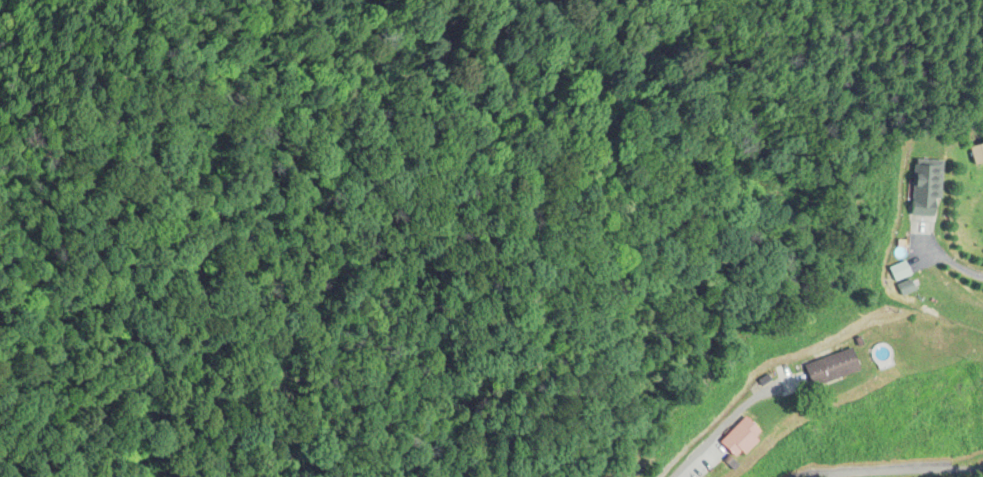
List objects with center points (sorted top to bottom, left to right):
building: (977, 156)
building: (930, 187)
road: (947, 261)
building: (838, 369)
road: (730, 425)
building: (745, 437)
road: (920, 471)

